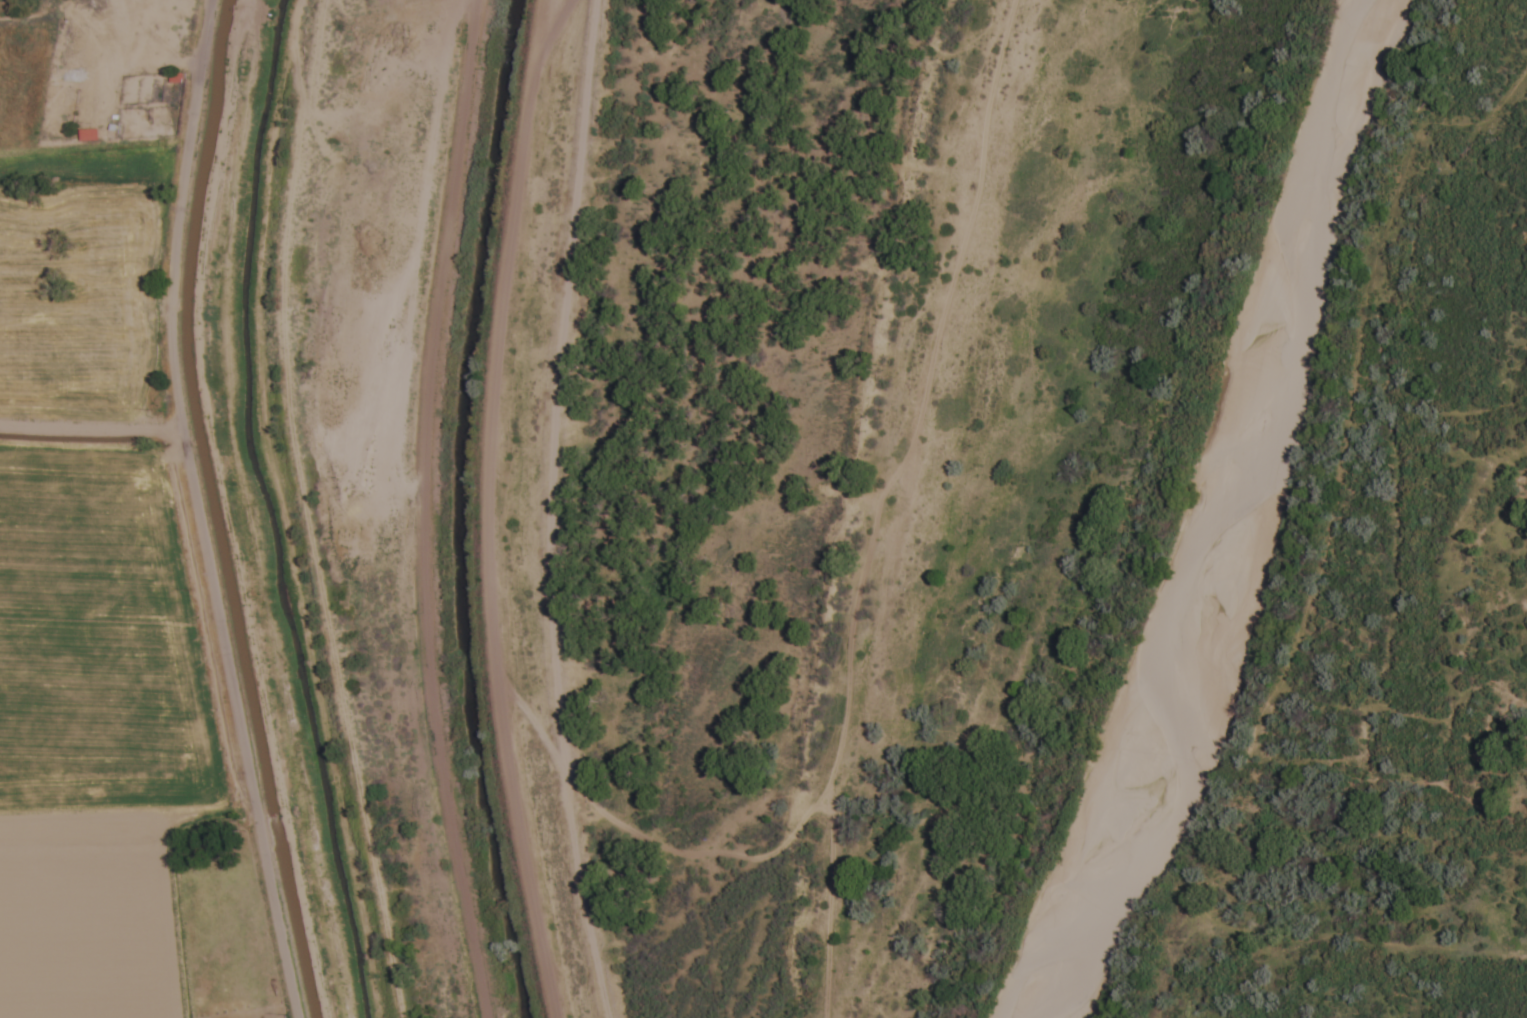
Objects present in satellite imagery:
building: (175, 79)
building: (87, 136)
road: (418, 510)
road: (551, 510)
road: (186, 511)
river: (1235, 518)
crop: (103, 612)

